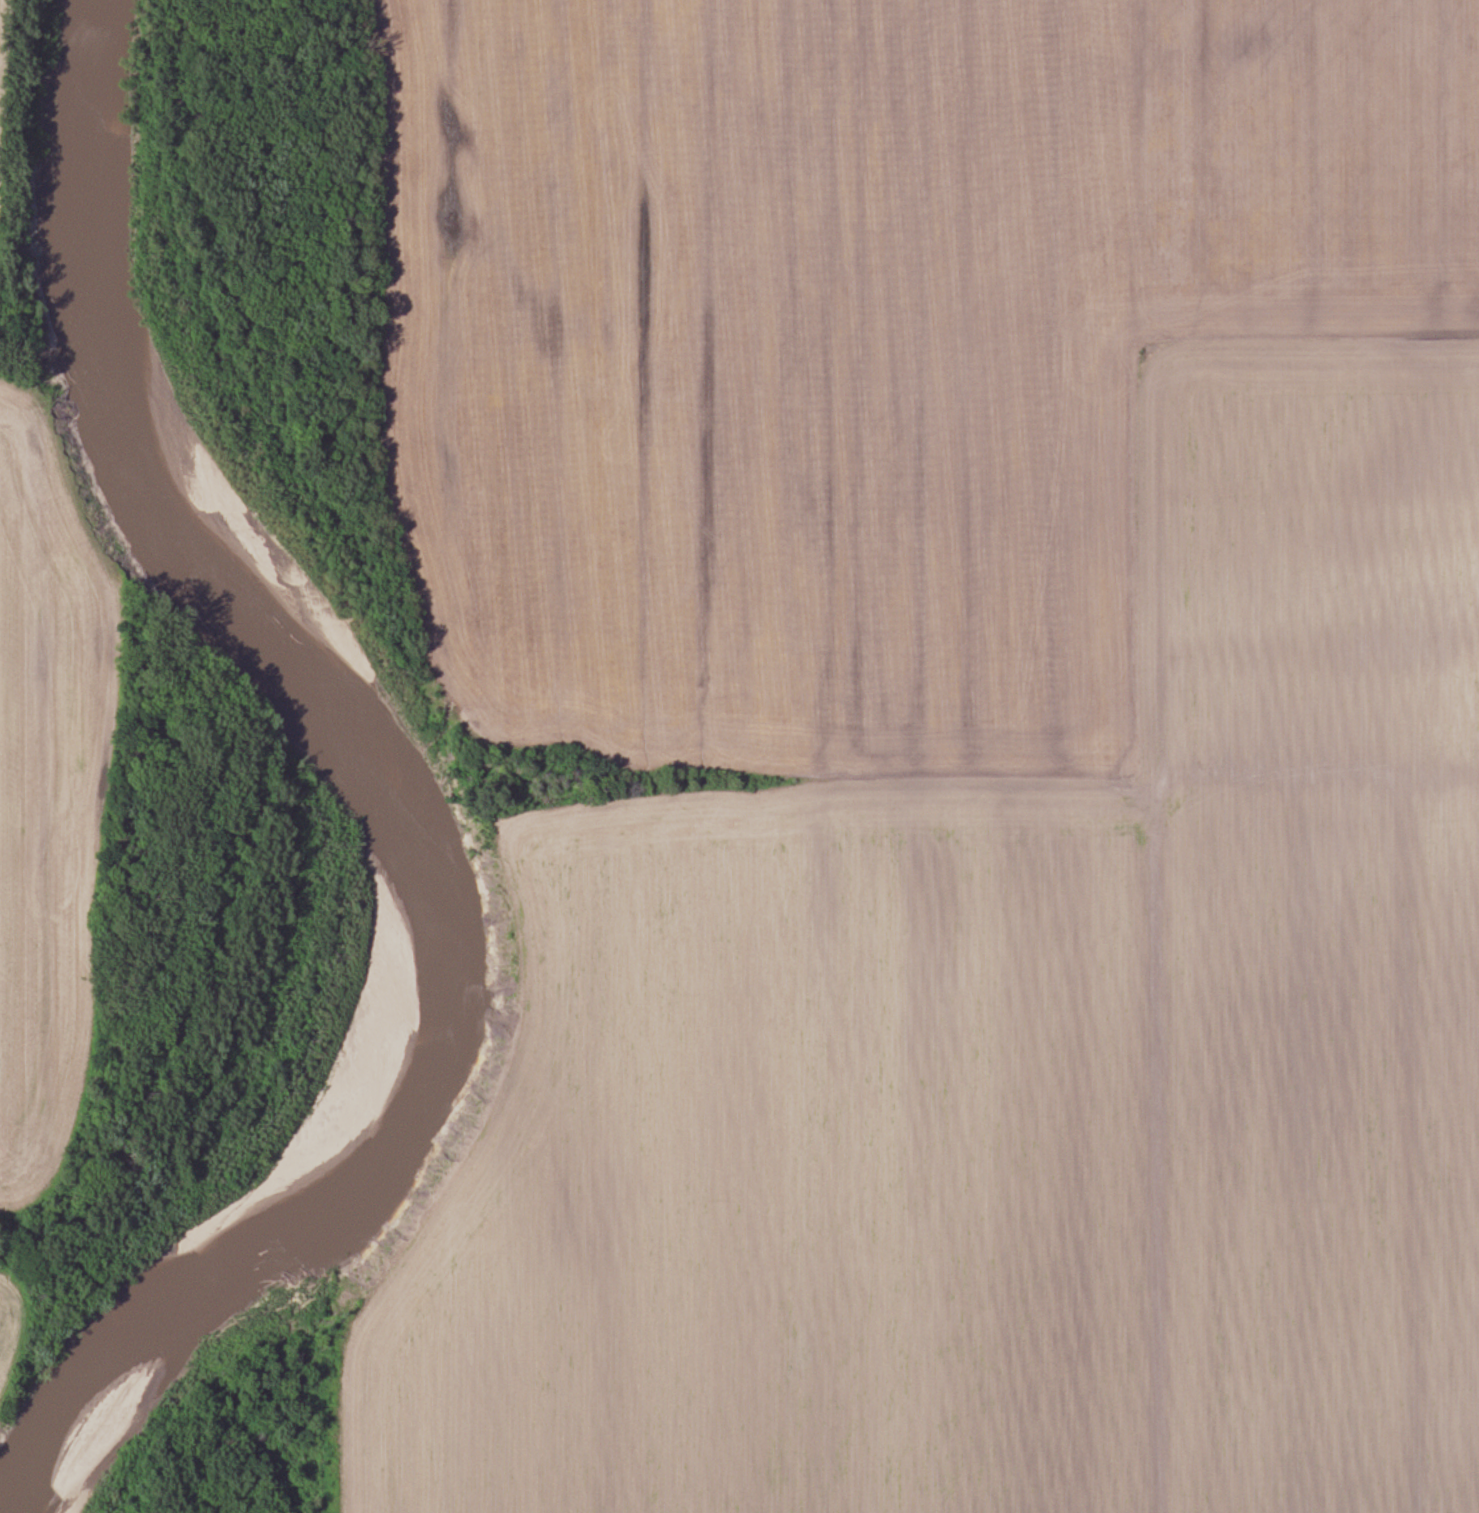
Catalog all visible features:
river: (415, 775)

